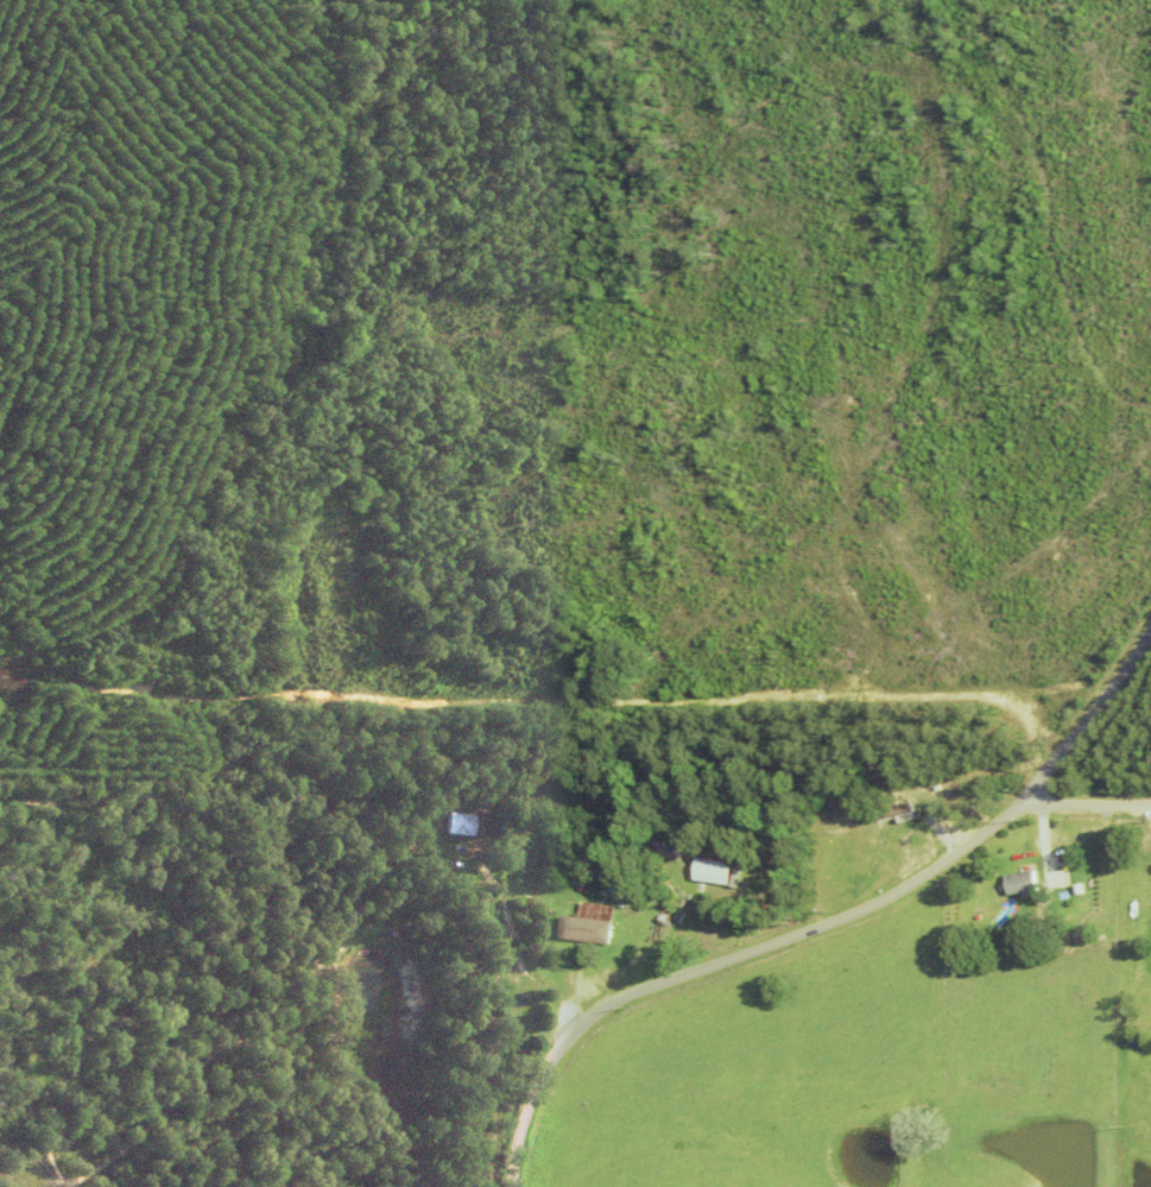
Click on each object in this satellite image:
road: (1079, 807)
building: (898, 813)
building: (461, 825)
building: (713, 871)
building: (1022, 883)
road: (823, 923)
building: (589, 924)

